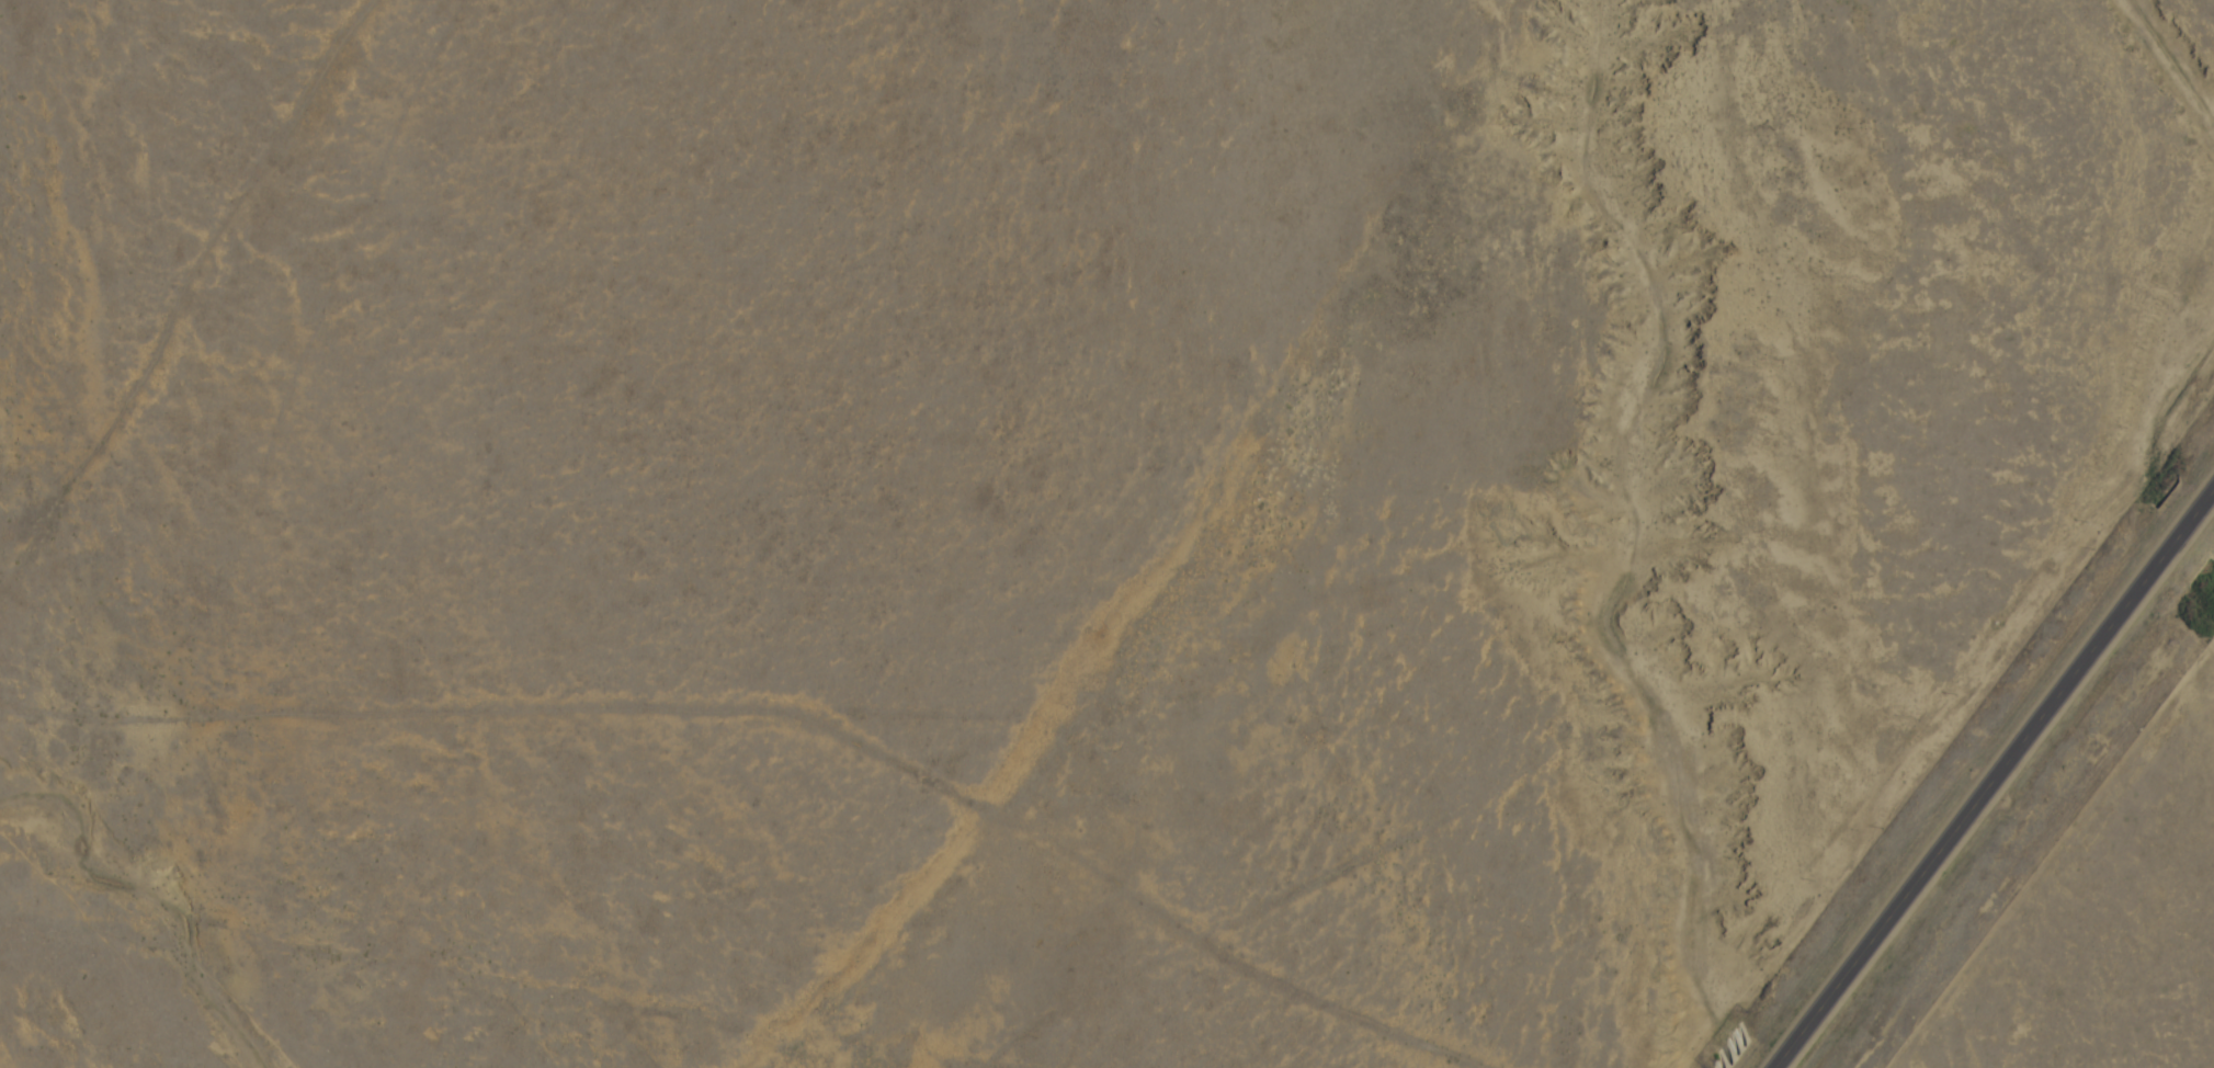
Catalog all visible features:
road: (1348, 534)
road: (1994, 779)

